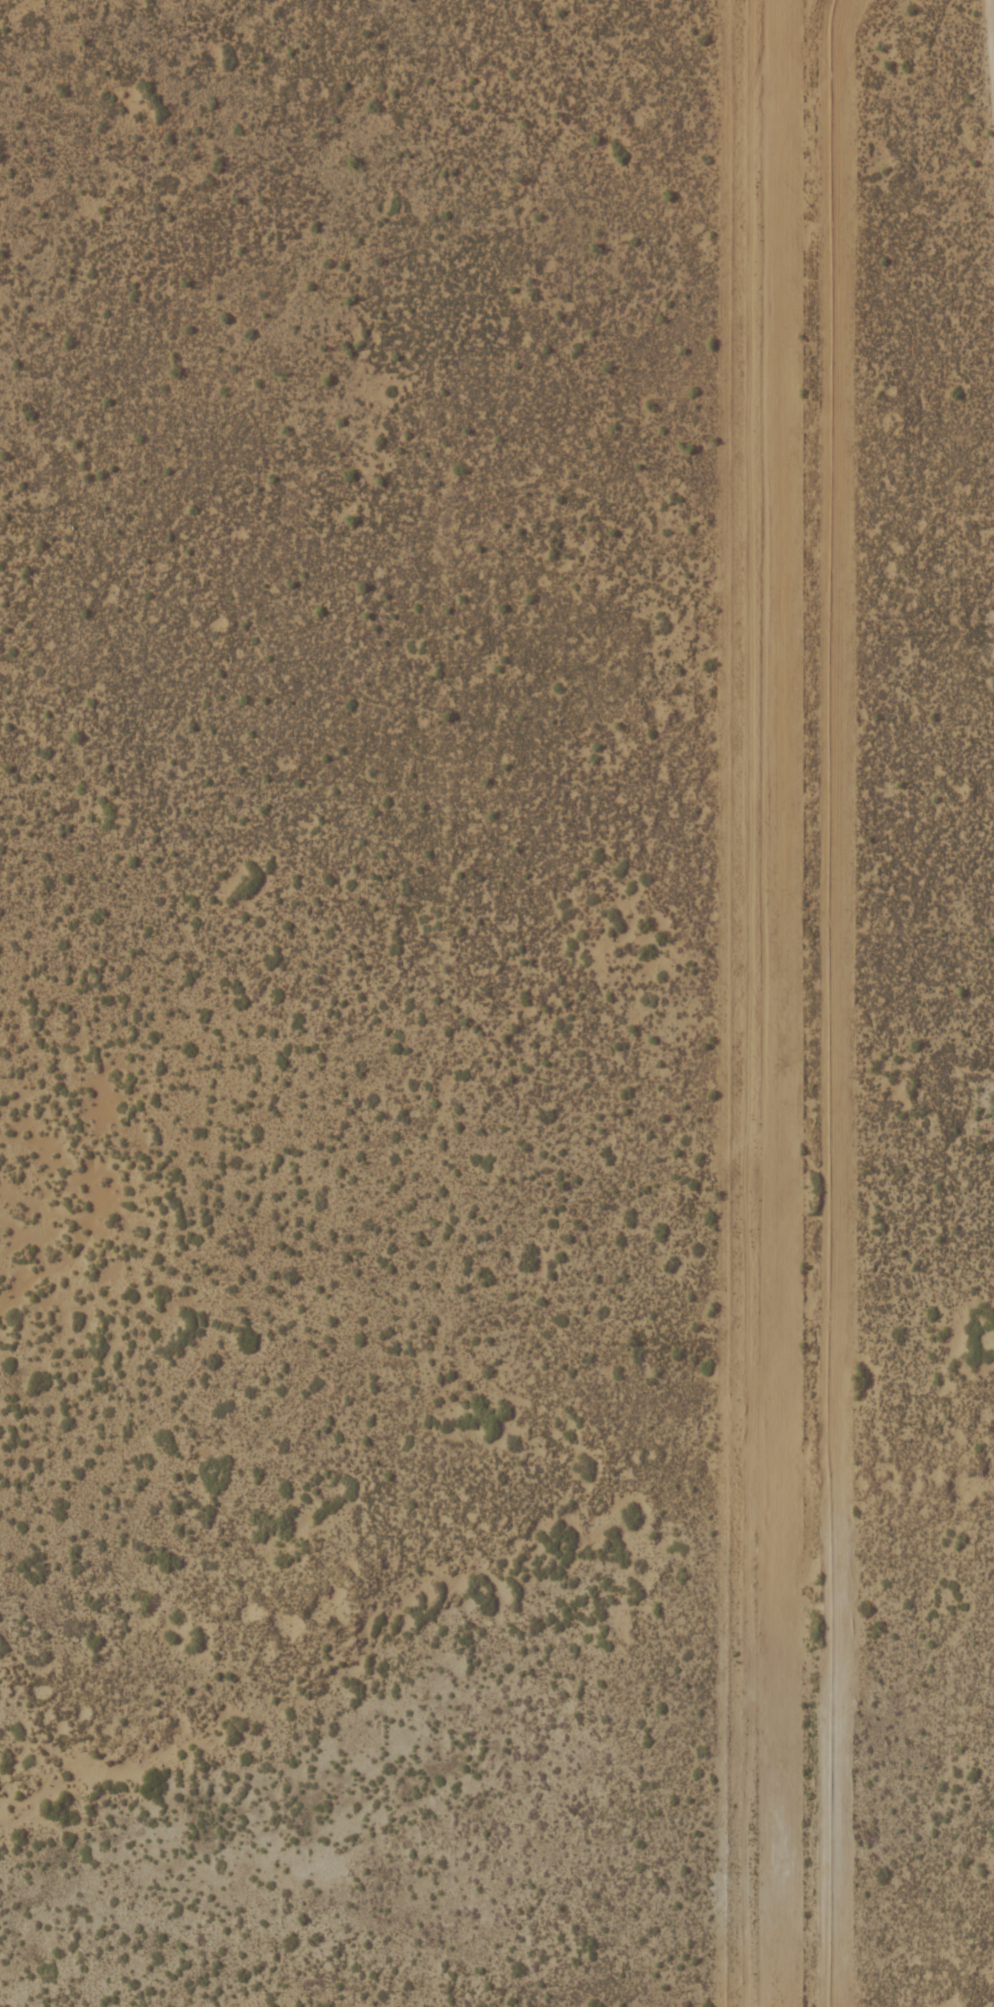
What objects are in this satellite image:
road: (989, 80)
road: (771, 1847)

